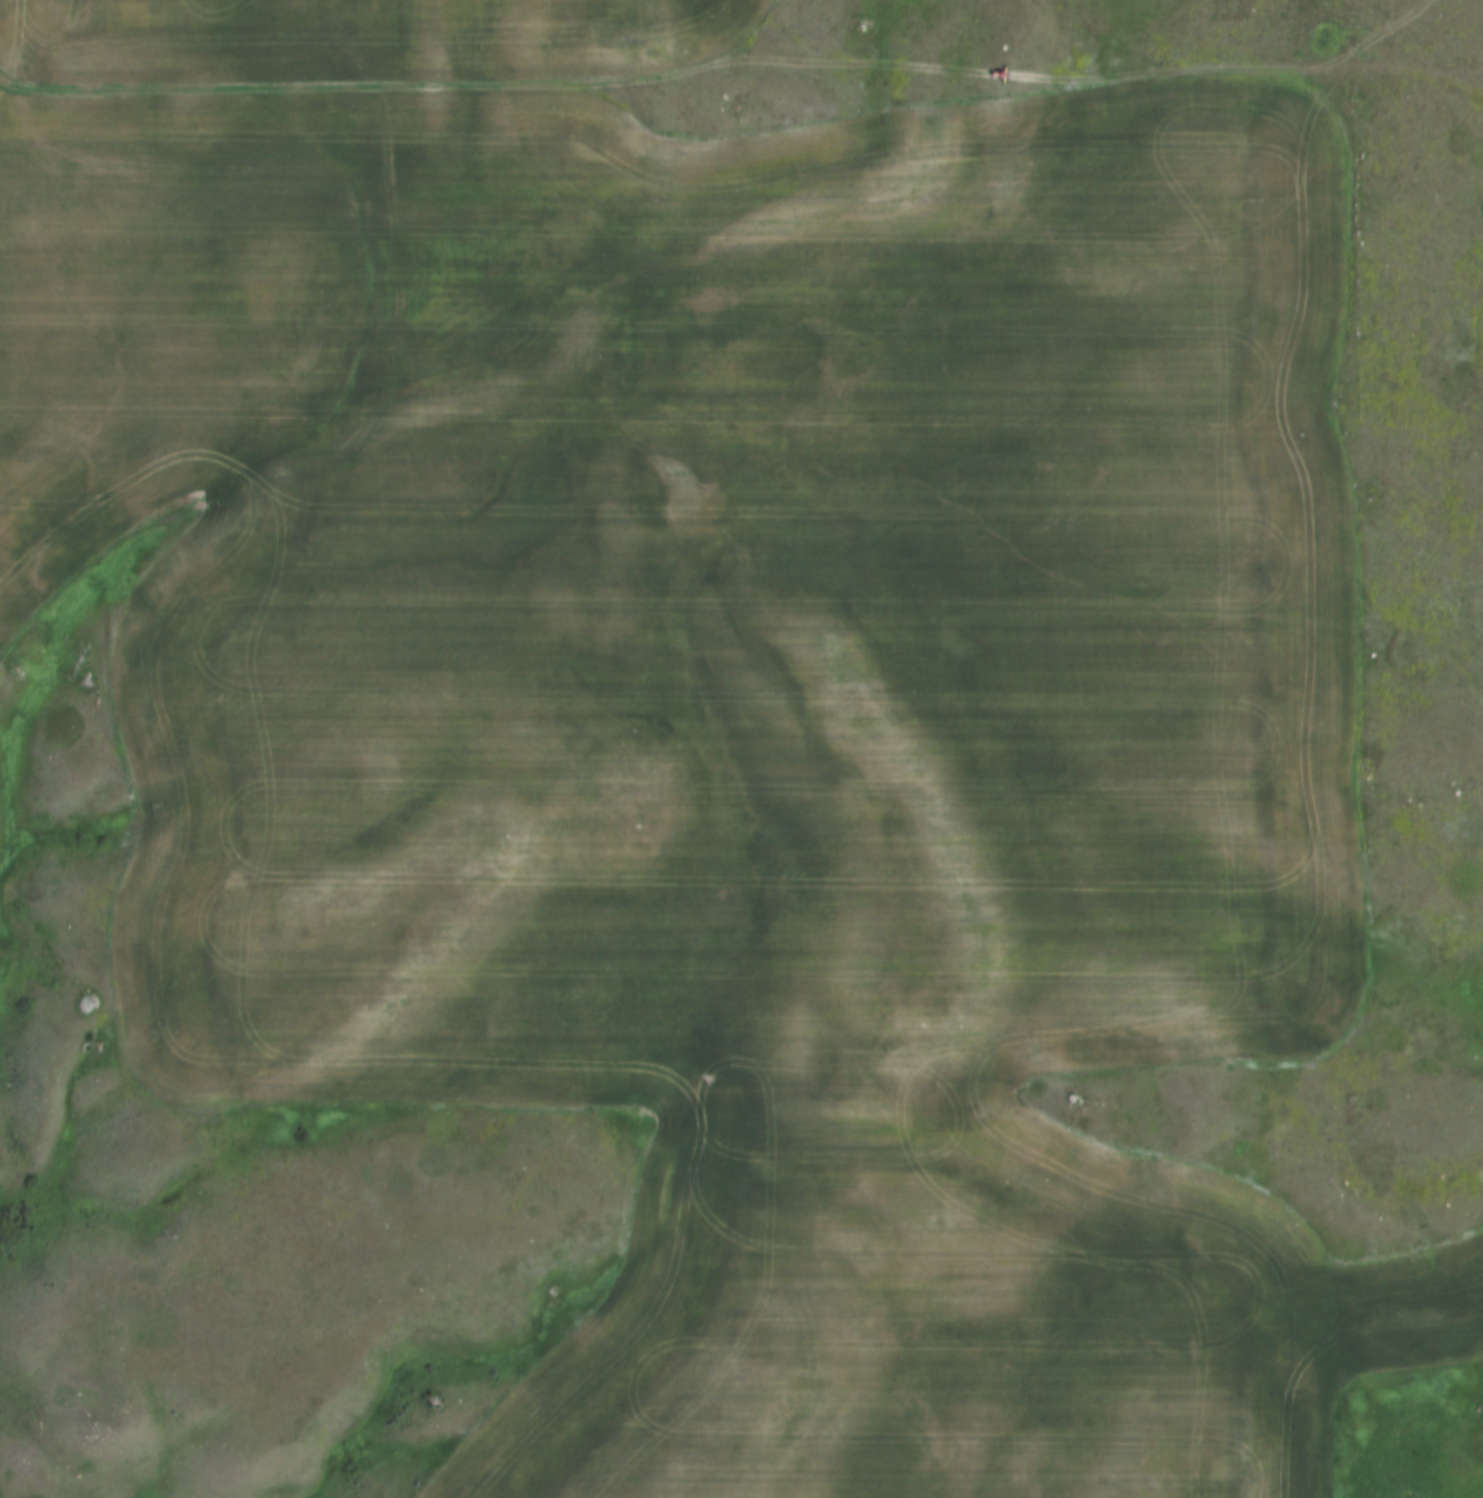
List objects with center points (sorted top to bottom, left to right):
road: (742, 59)
road: (1477, 331)

